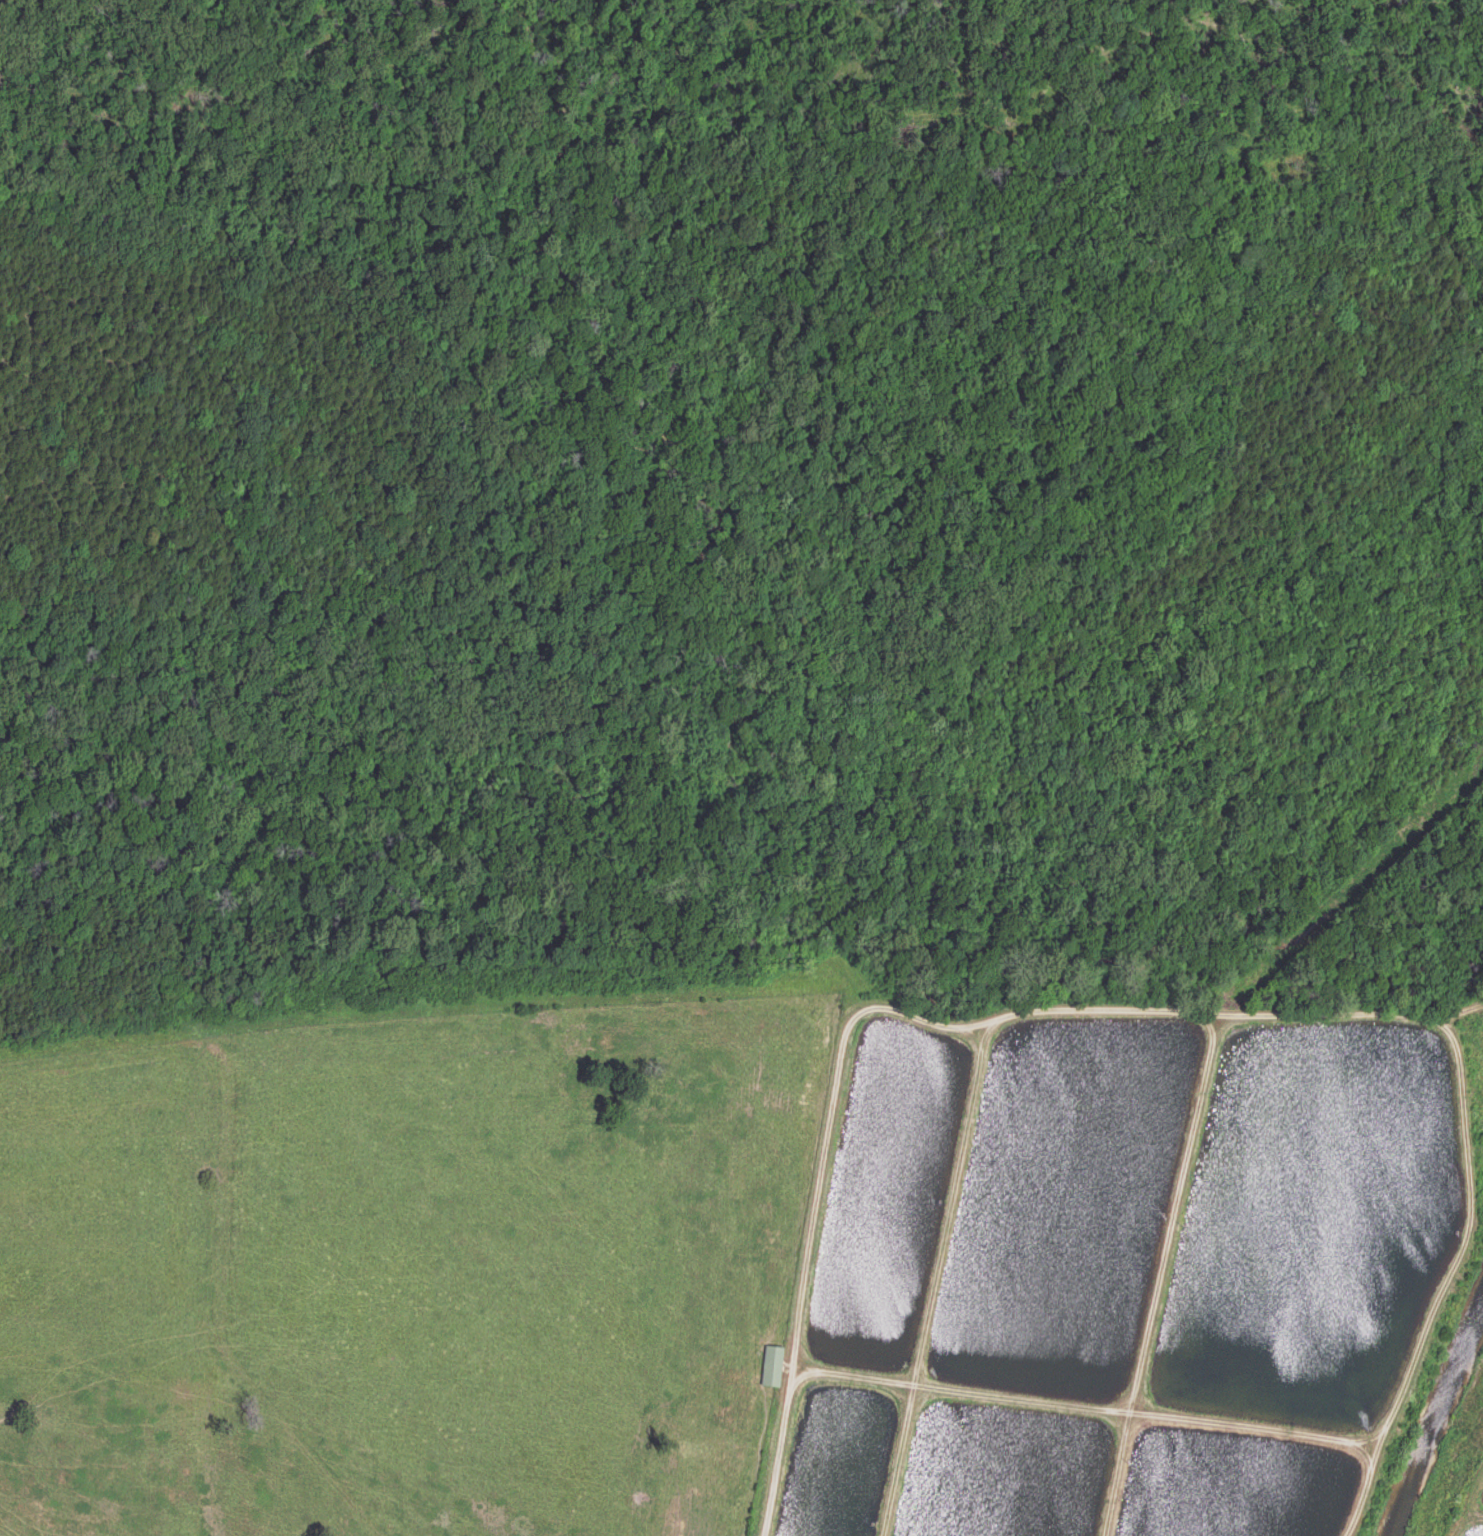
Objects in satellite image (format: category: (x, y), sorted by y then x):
building: (776, 1368)

